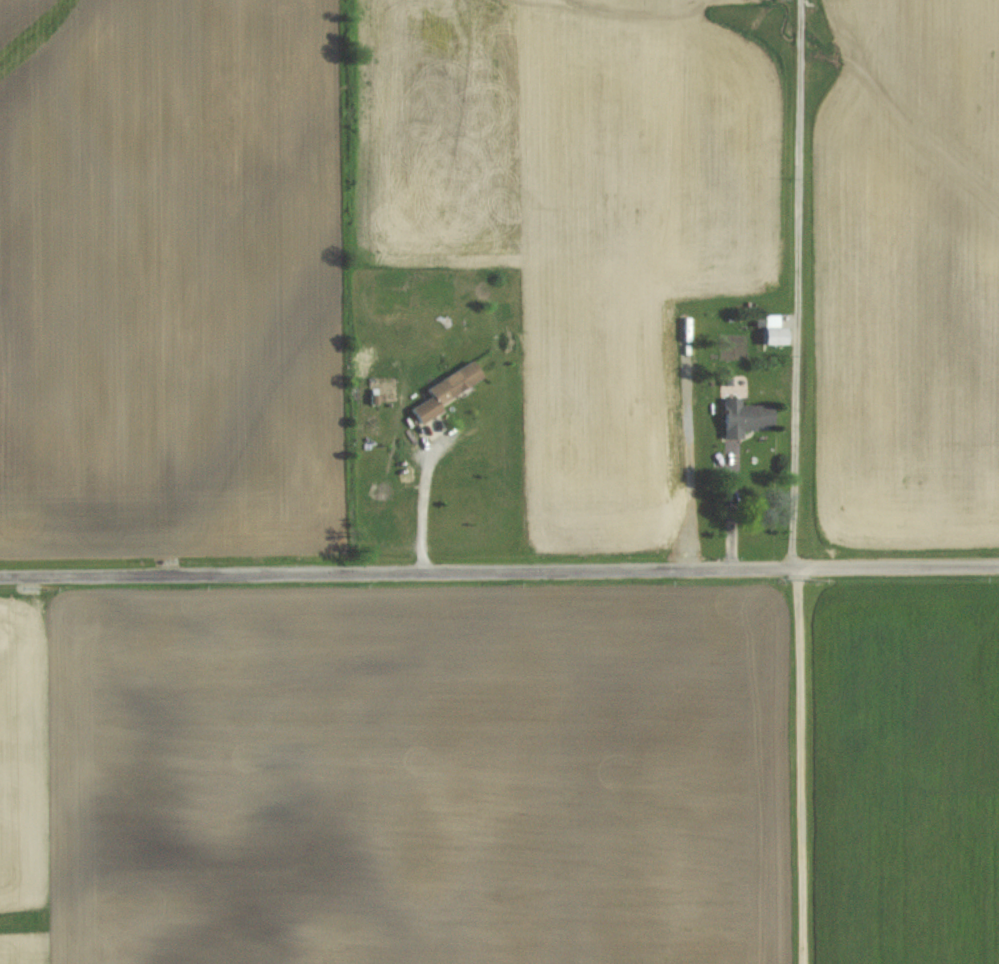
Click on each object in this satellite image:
road: (800, 283)
building: (775, 334)
building: (447, 390)
building: (745, 417)
road: (435, 512)
road: (499, 575)
road: (801, 765)

